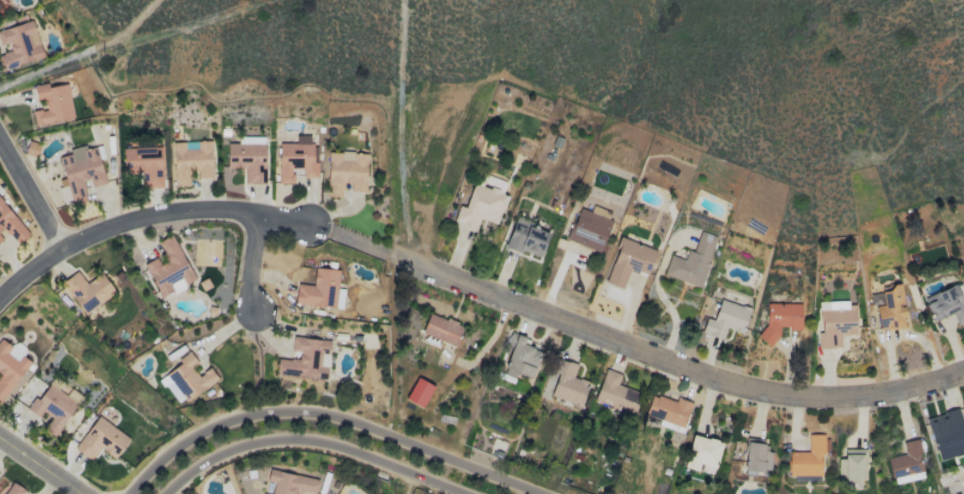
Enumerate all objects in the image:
building: (2, 0)
building: (19, 45)
road: (81, 50)
building: (52, 103)
road: (401, 130)
building: (247, 157)
building: (296, 158)
building: (191, 160)
building: (143, 167)
building: (81, 171)
building: (346, 173)
road: (32, 193)
building: (480, 206)
road: (145, 219)
building: (11, 223)
building: (590, 227)
building: (526, 238)
building: (0, 239)
road: (252, 261)
building: (629, 261)
building: (691, 261)
building: (169, 268)
building: (87, 290)
building: (320, 290)
building: (946, 304)
building: (889, 308)
building: (780, 318)
building: (726, 319)
building: (835, 322)
building: (442, 329)
road: (632, 347)
building: (304, 358)
building: (520, 358)
building: (10, 366)
building: (187, 379)
building: (567, 383)
building: (419, 392)
building: (616, 393)
building: (54, 406)
building: (668, 410)
road: (333, 414)
building: (947, 434)
building: (101, 439)
road: (313, 441)
building: (702, 452)
building: (756, 455)
building: (809, 456)
building: (906, 463)
road: (39, 466)
building: (851, 466)
building: (291, 483)
building: (15, 489)
building: (265, 493)

